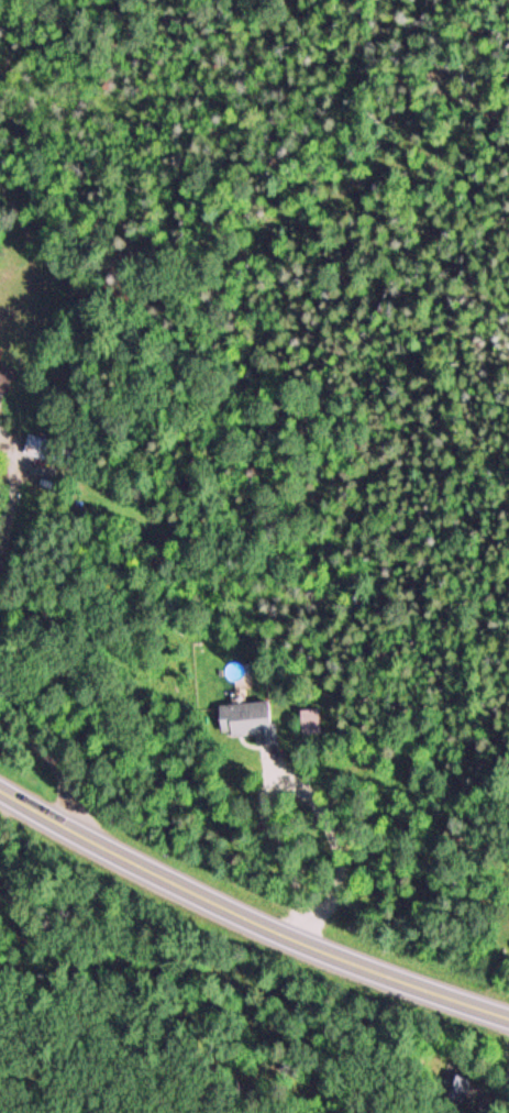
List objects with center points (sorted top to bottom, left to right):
building: (4, 376)
building: (40, 447)
building: (246, 720)
building: (309, 721)
road: (246, 923)

